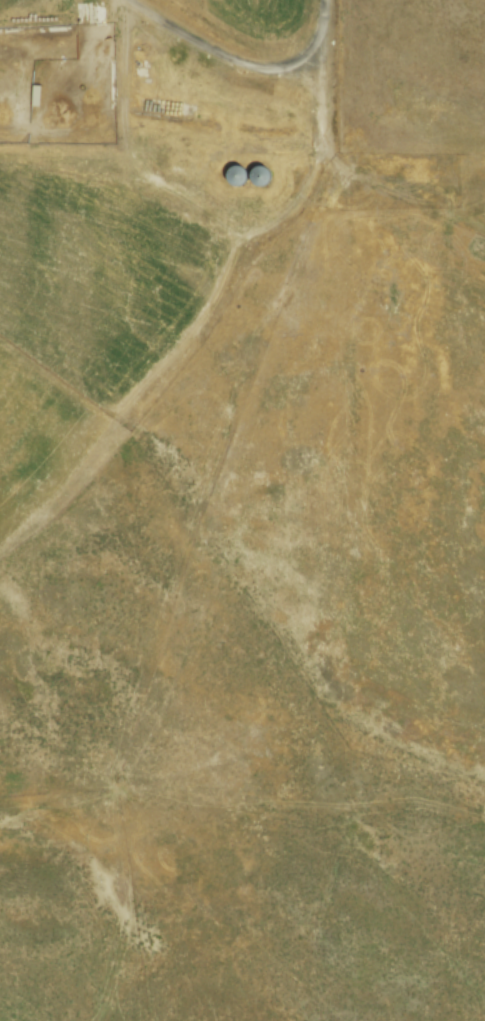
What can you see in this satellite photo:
road: (243, 66)
building: (235, 173)

